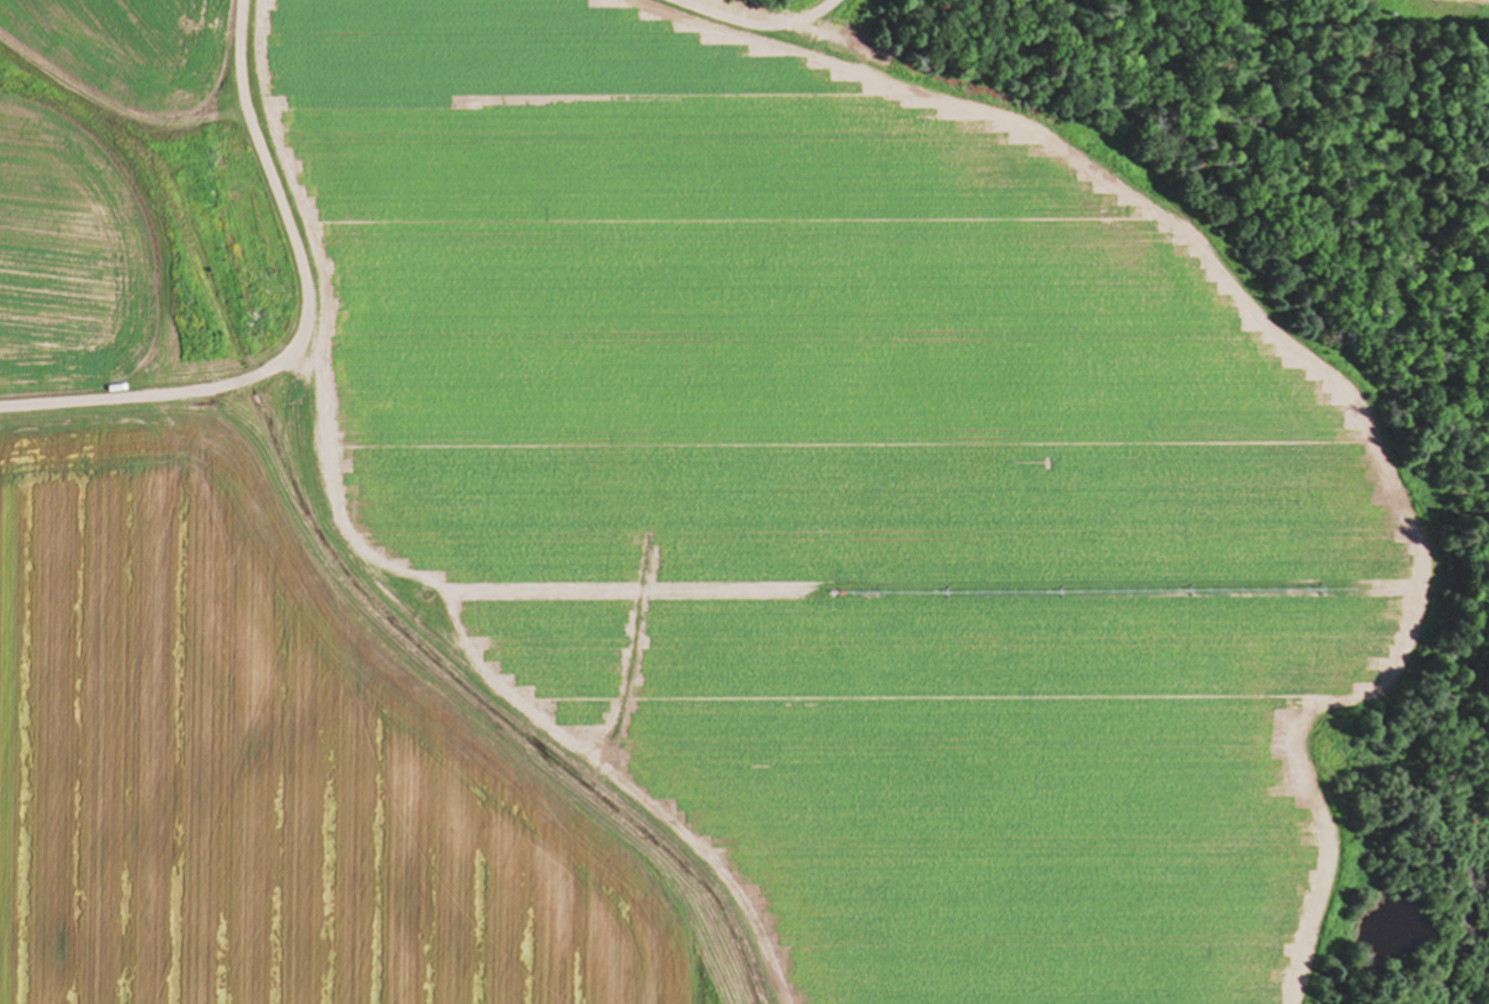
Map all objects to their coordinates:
road: (759, 24)
road: (307, 324)

